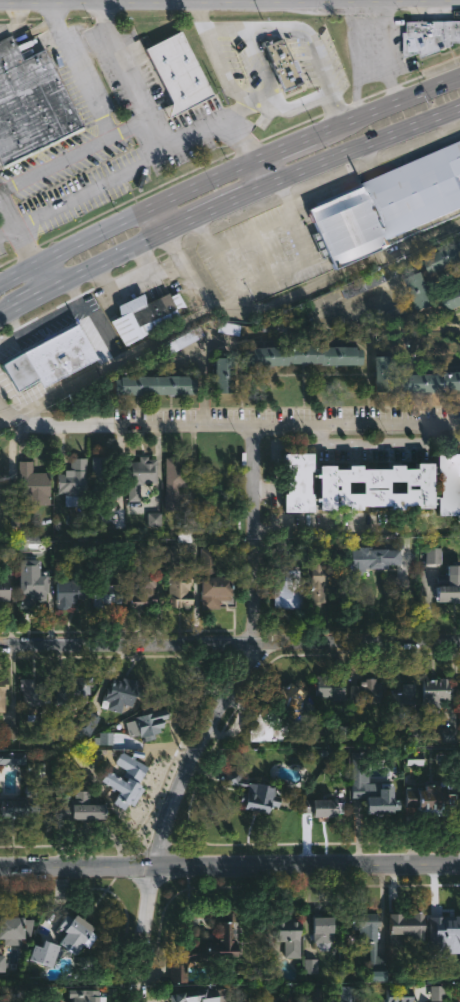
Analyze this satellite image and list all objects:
road: (359, 0)
road: (215, 1)
road: (257, 30)
building: (431, 36)
road: (216, 57)
road: (320, 61)
road: (122, 62)
building: (282, 65)
road: (80, 70)
building: (176, 72)
road: (308, 98)
building: (32, 104)
road: (385, 104)
road: (241, 113)
road: (143, 121)
road: (218, 125)
road: (283, 147)
road: (364, 147)
road: (55, 163)
road: (262, 174)
road: (89, 189)
building: (388, 204)
road: (233, 205)
road: (165, 218)
road: (126, 219)
road: (226, 222)
road: (6, 235)
road: (17, 239)
road: (122, 256)
road: (308, 257)
building: (446, 259)
road: (41, 279)
road: (307, 290)
building: (422, 291)
road: (34, 299)
building: (453, 300)
road: (10, 313)
building: (142, 315)
building: (389, 315)
building: (181, 340)
road: (148, 343)
building: (305, 354)
building: (49, 358)
building: (224, 373)
building: (387, 373)
building: (435, 381)
building: (156, 385)
road: (225, 429)
road: (372, 446)
building: (140, 476)
building: (106, 479)
building: (75, 481)
building: (178, 481)
building: (300, 482)
building: (448, 484)
building: (36, 485)
building: (376, 485)
building: (190, 517)
road: (354, 532)
building: (373, 559)
building: (322, 576)
building: (213, 578)
building: (179, 579)
building: (143, 582)
building: (450, 586)
building: (5, 587)
building: (288, 589)
building: (33, 591)
building: (71, 592)
building: (109, 594)
road: (230, 644)
road: (245, 656)
building: (330, 687)
building: (73, 688)
building: (435, 692)
building: (369, 693)
building: (4, 694)
building: (35, 694)
building: (121, 694)
building: (459, 694)
building: (289, 696)
building: (406, 700)
building: (150, 724)
building: (87, 725)
building: (268, 726)
building: (12, 757)
building: (127, 779)
building: (255, 791)
building: (376, 799)
building: (25, 800)
building: (431, 800)
building: (88, 806)
building: (320, 808)
road: (309, 865)
road: (79, 867)
building: (411, 924)
building: (446, 926)
building: (325, 927)
building: (13, 928)
building: (77, 931)
road: (146, 933)
building: (288, 935)
building: (371, 941)
building: (215, 942)
building: (45, 951)
building: (2, 965)
building: (312, 967)
building: (180, 974)
building: (87, 995)
building: (202, 995)
building: (397, 995)

